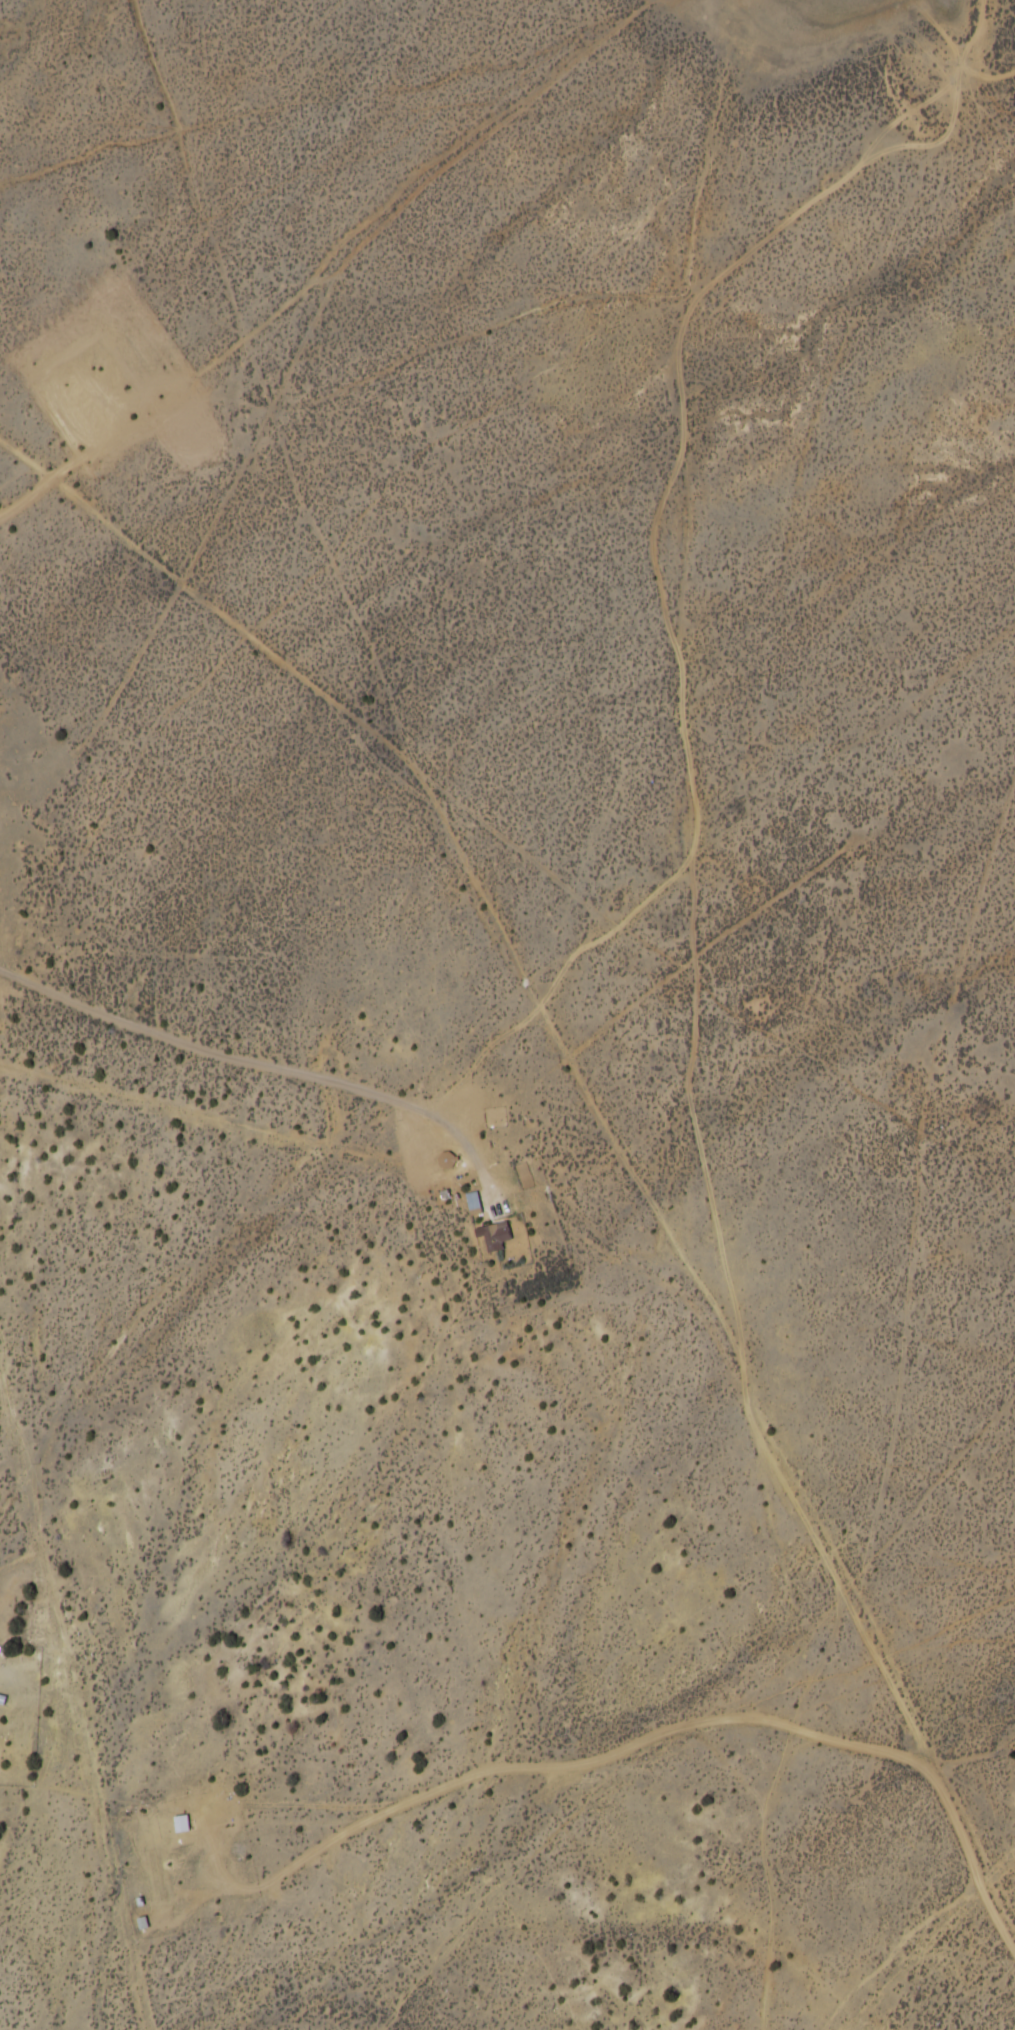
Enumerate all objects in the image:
road: (588, 1128)
building: (471, 1203)
road: (324, 1252)
road: (758, 1840)
road: (1003, 2006)

